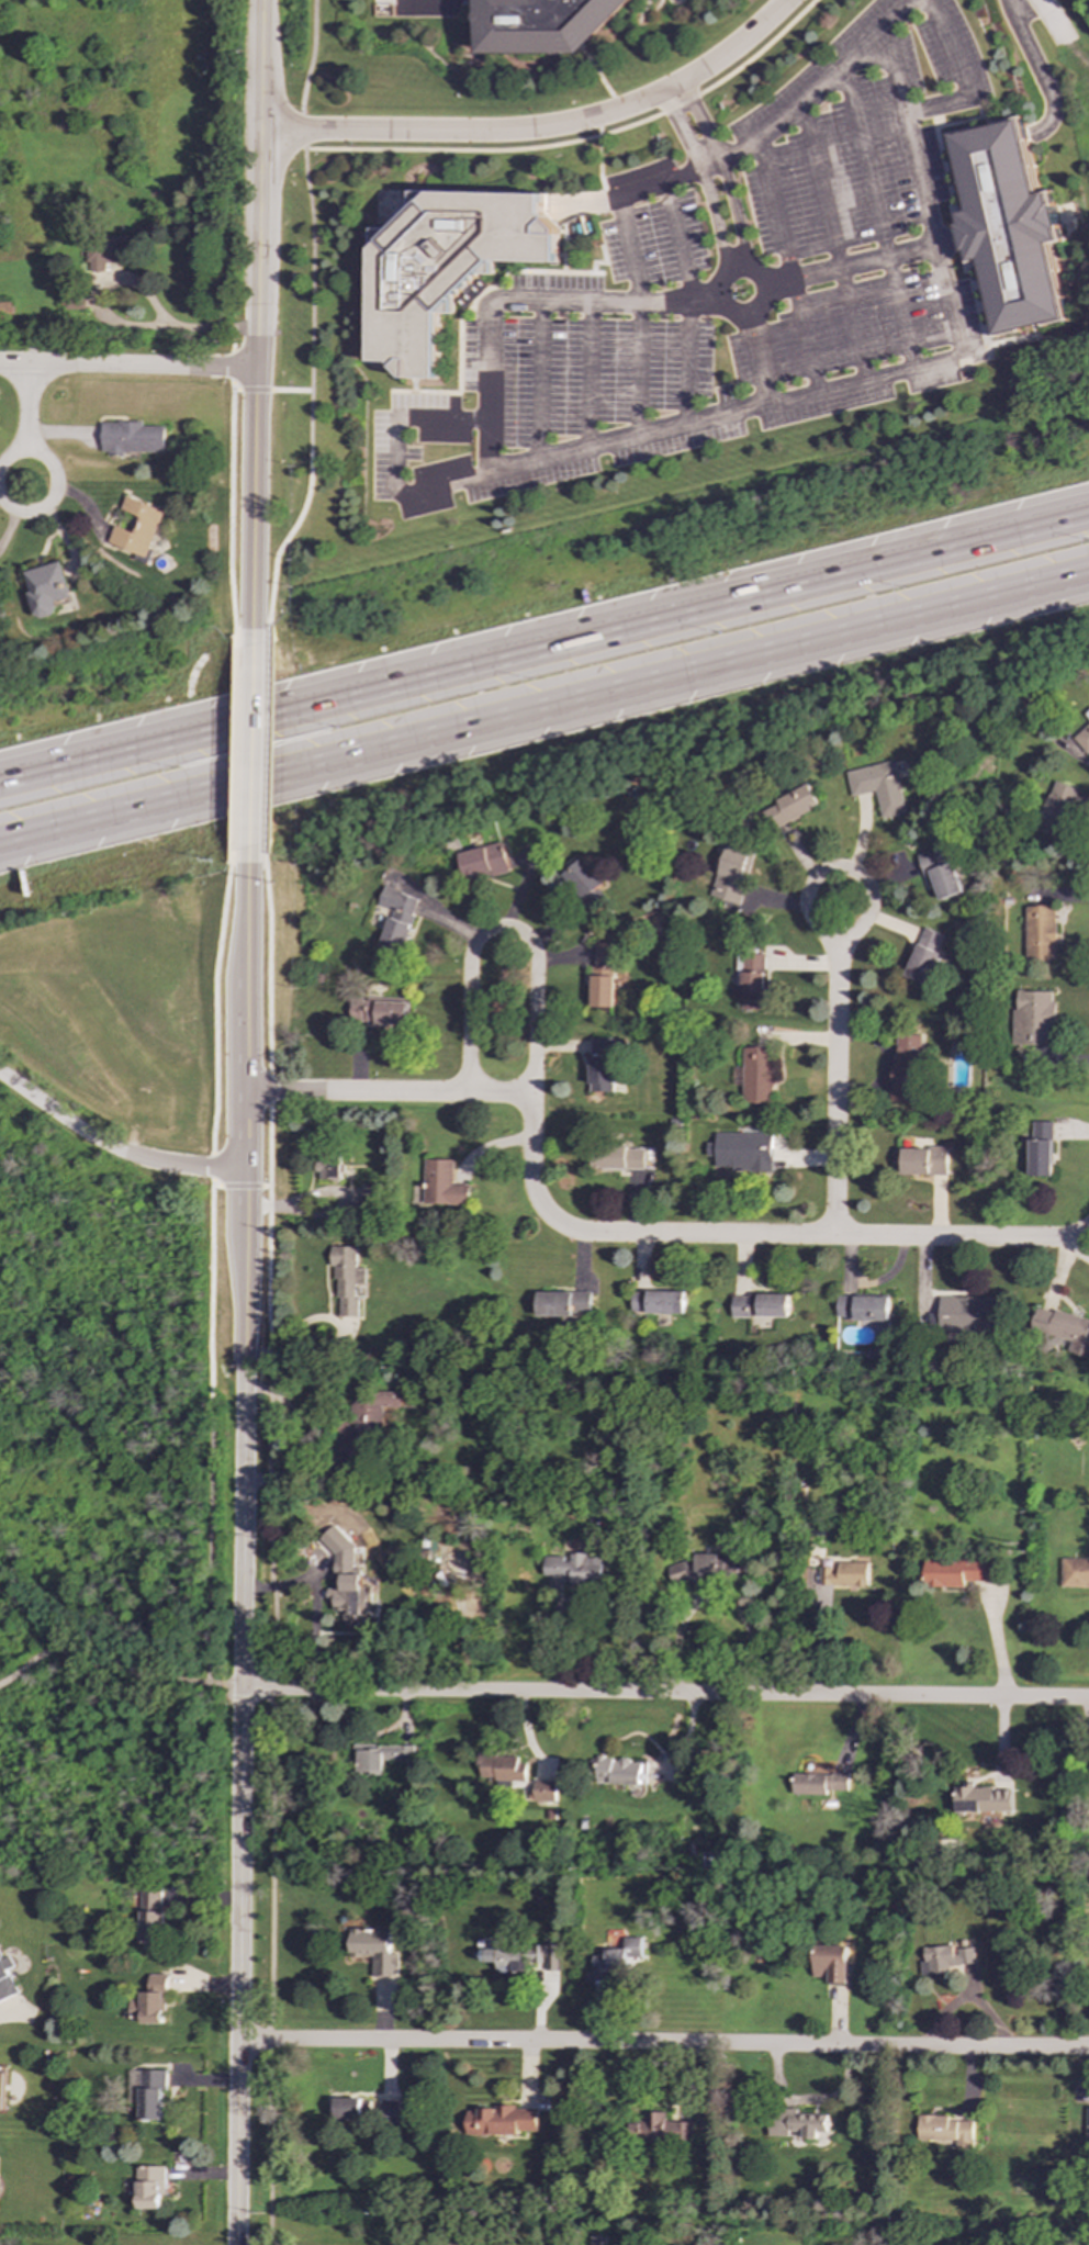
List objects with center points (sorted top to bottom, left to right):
building: (541, 24)
road: (1060, 44)
road: (308, 66)
road: (1034, 67)
road: (542, 130)
building: (1008, 227)
building: (101, 255)
building: (444, 265)
road: (840, 270)
road: (311, 291)
building: (8, 313)
road: (257, 329)
road: (756, 350)
road: (128, 366)
road: (232, 366)
road: (249, 389)
road: (290, 389)
road: (26, 406)
road: (721, 418)
building: (132, 438)
road: (487, 449)
road: (53, 483)
road: (229, 517)
building: (136, 528)
road: (279, 550)
building: (46, 588)
road: (544, 644)
road: (544, 707)
building: (1087, 714)
building: (1082, 739)
road: (267, 741)
road: (235, 742)
road: (251, 743)
building: (878, 787)
building: (1057, 808)
building: (785, 809)
building: (482, 862)
building: (731, 873)
building: (941, 873)
road: (863, 880)
building: (584, 885)
building: (396, 918)
road: (503, 929)
building: (1040, 933)
road: (271, 951)
building: (924, 956)
building: (604, 975)
building: (752, 981)
road: (216, 991)
building: (380, 1012)
building: (1033, 1018)
building: (603, 1065)
building: (907, 1066)
building: (755, 1076)
road: (270, 1089)
road: (390, 1091)
road: (834, 1092)
building: (1040, 1148)
road: (113, 1149)
building: (743, 1152)
building: (624, 1160)
building: (923, 1160)
road: (211, 1166)
building: (328, 1167)
road: (239, 1185)
building: (441, 1185)
road: (268, 1227)
road: (755, 1236)
road: (1076, 1250)
building: (346, 1280)
road: (210, 1292)
building: (659, 1302)
building: (564, 1304)
building: (760, 1305)
building: (863, 1307)
building: (967, 1315)
building: (1063, 1328)
park: (124, 1367)
building: (364, 1424)
road: (244, 1536)
road: (207, 1545)
building: (428, 1550)
building: (710, 1568)
building: (583, 1569)
building: (955, 1572)
building: (1074, 1572)
building: (844, 1574)
building: (346, 1580)
road: (27, 1624)
road: (1002, 1640)
road: (115, 1671)
road: (665, 1694)
road: (1087, 1710)
building: (380, 1758)
building: (501, 1767)
building: (619, 1772)
building: (818, 1784)
building: (544, 1792)
road: (270, 1798)
building: (981, 1800)
building: (151, 1917)
building: (373, 1950)
building: (617, 1953)
building: (521, 1958)
building: (944, 1960)
building: (831, 1963)
building: (5, 1979)
building: (149, 2002)
road: (663, 2044)
building: (2, 2090)
building: (147, 2092)
building: (346, 2108)
building: (390, 2112)
building: (501, 2122)
building: (796, 2123)
building: (1087, 2123)
building: (660, 2129)
building: (943, 2131)
building: (149, 2187)

